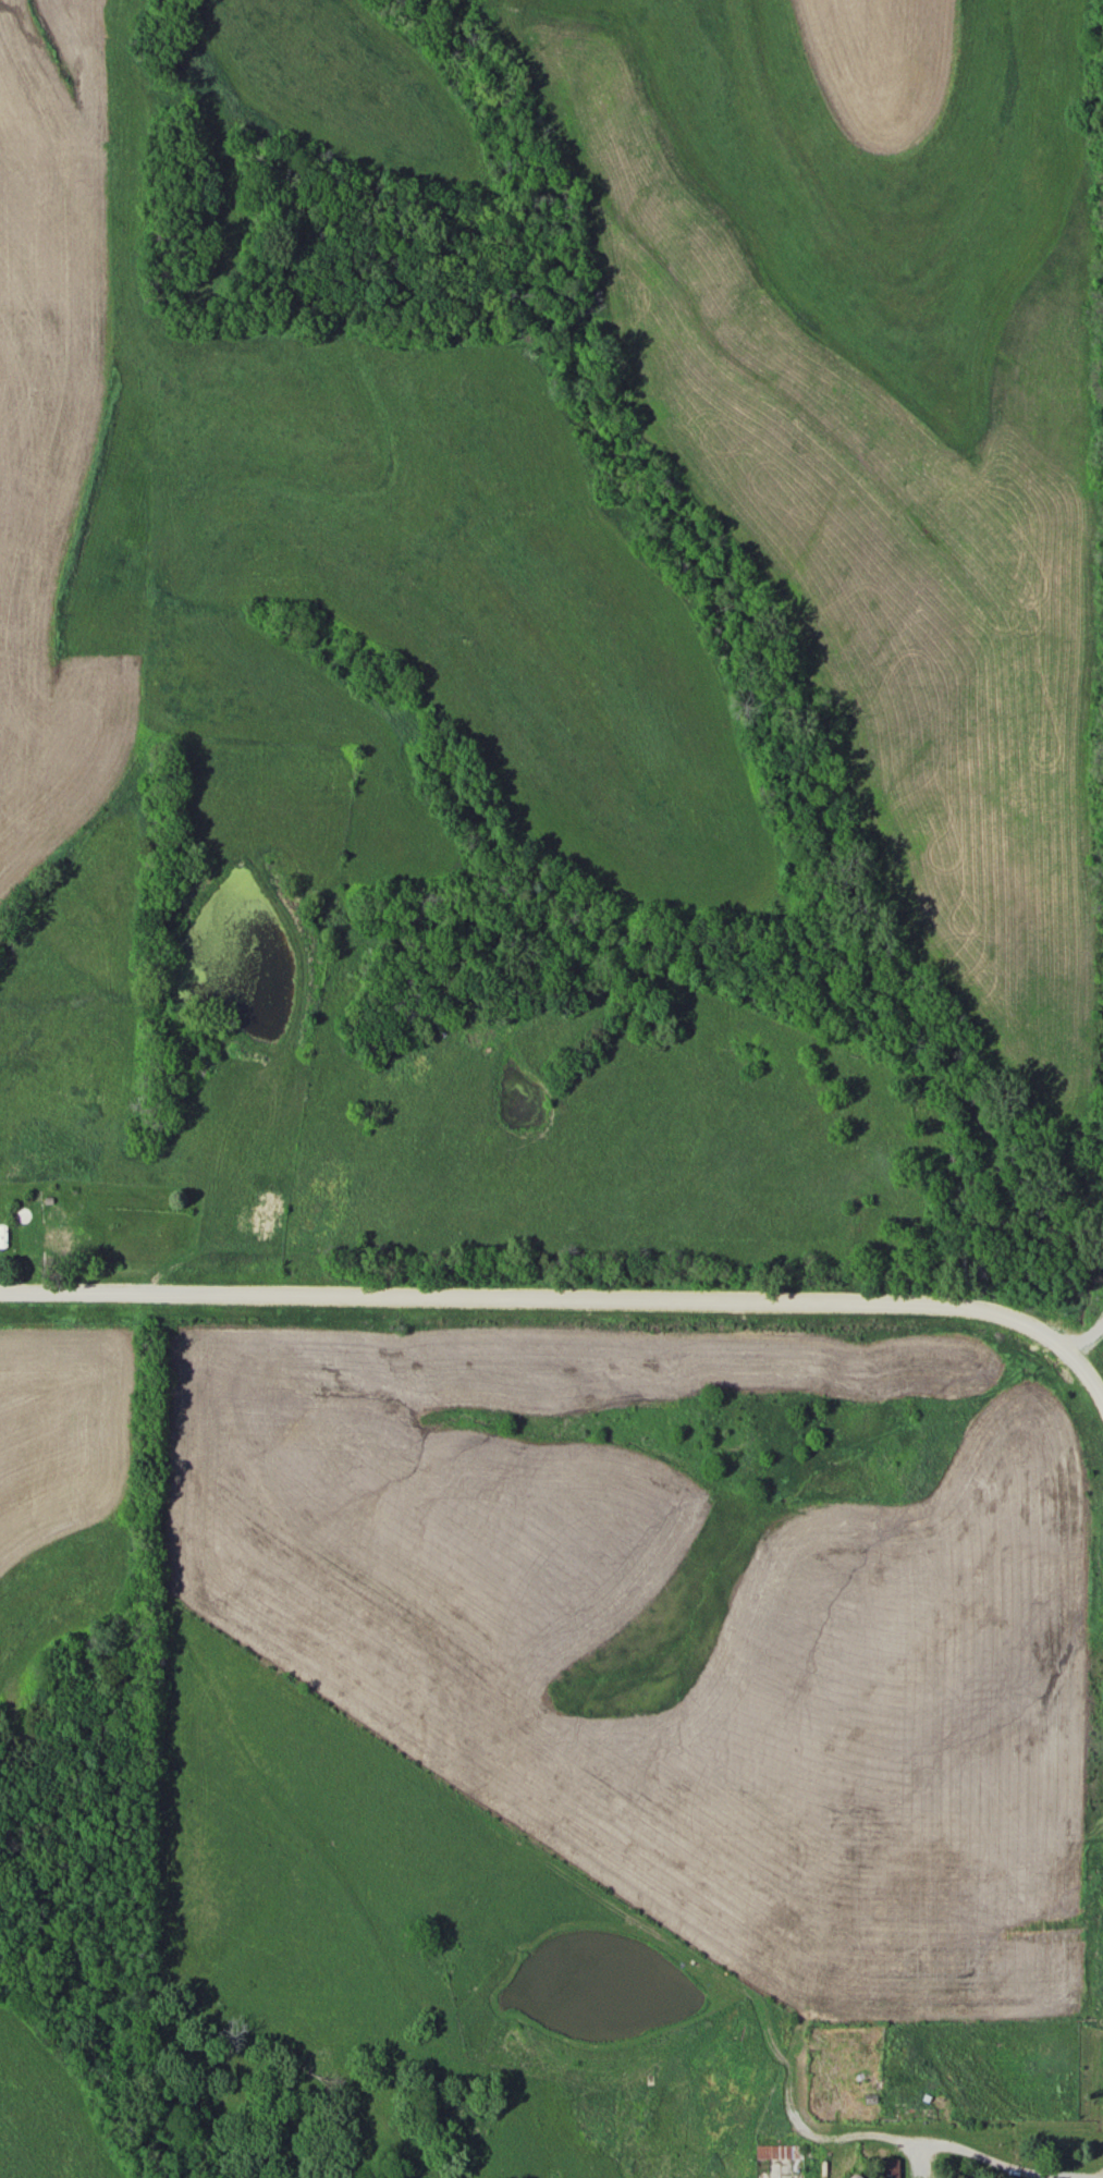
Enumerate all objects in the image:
building: (35, 1236)
road: (568, 1296)
road: (1006, 2159)

